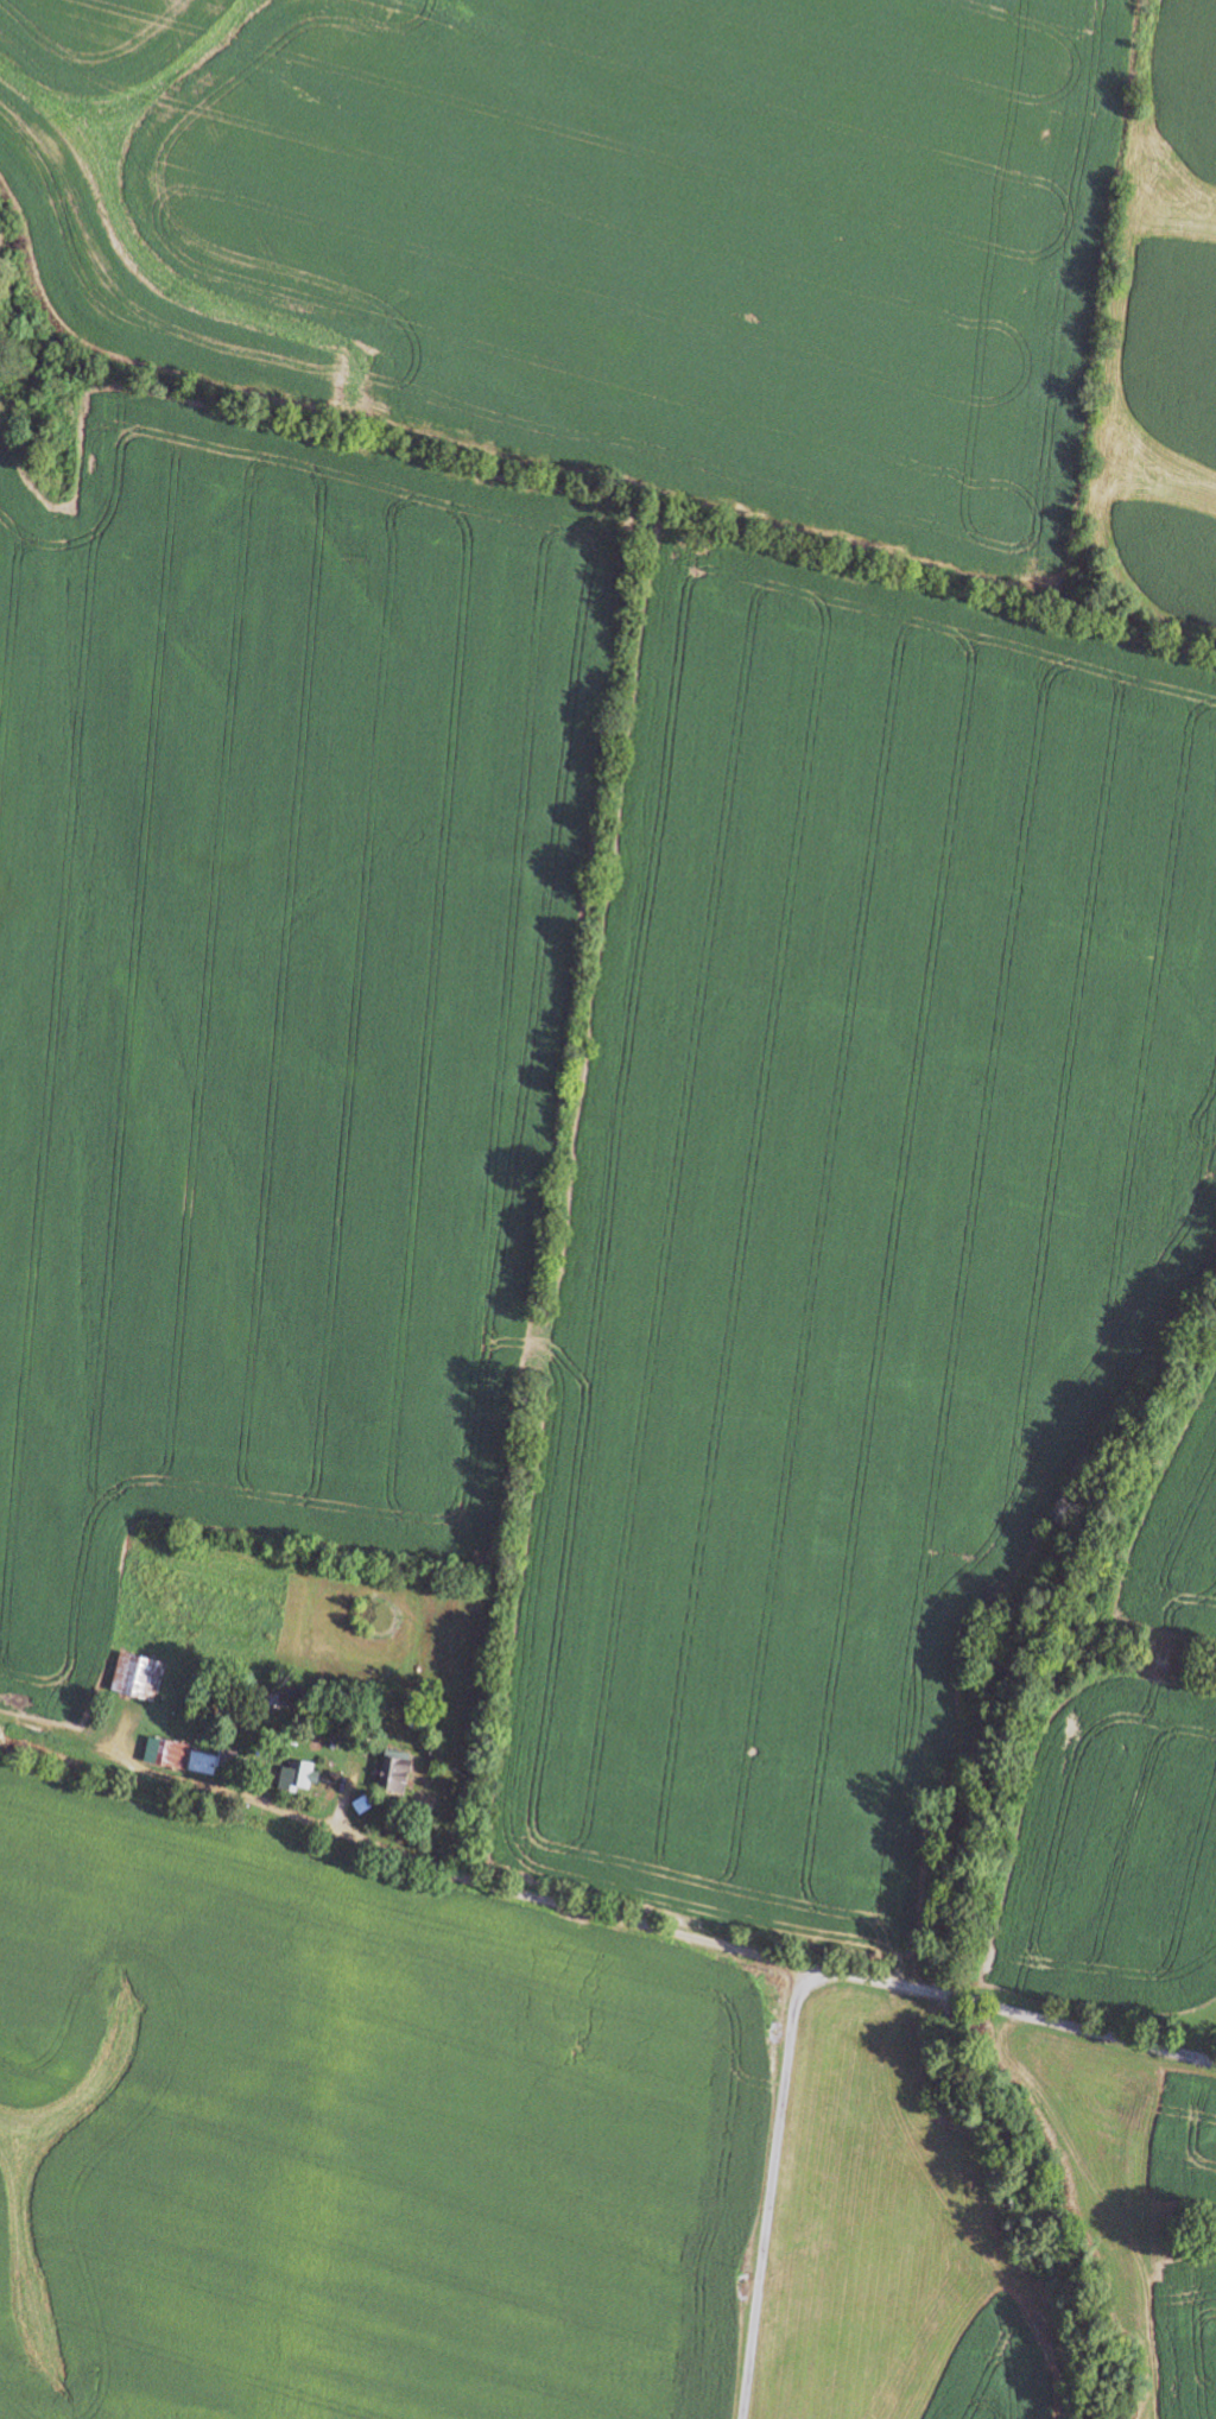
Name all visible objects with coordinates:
building: (140, 1674)
building: (170, 1753)
building: (302, 1777)
building: (400, 1779)
road: (598, 1911)
road: (807, 1994)

